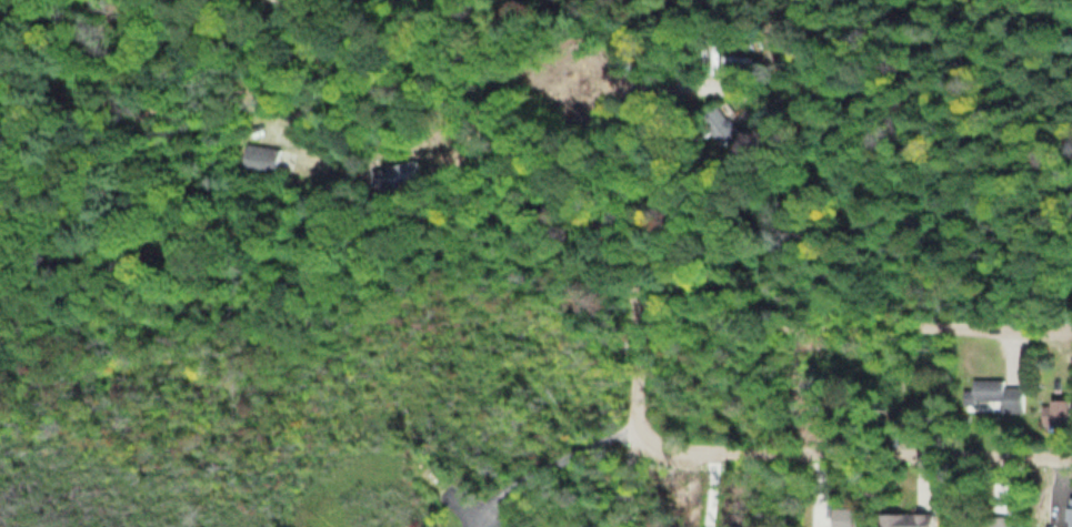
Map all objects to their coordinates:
building: (737, 65)
building: (723, 124)
building: (260, 159)
building: (395, 178)
road: (581, 189)
road: (854, 325)
building: (995, 395)
building: (1058, 413)
road: (851, 454)
road: (542, 466)
building: (906, 520)
building: (998, 521)

